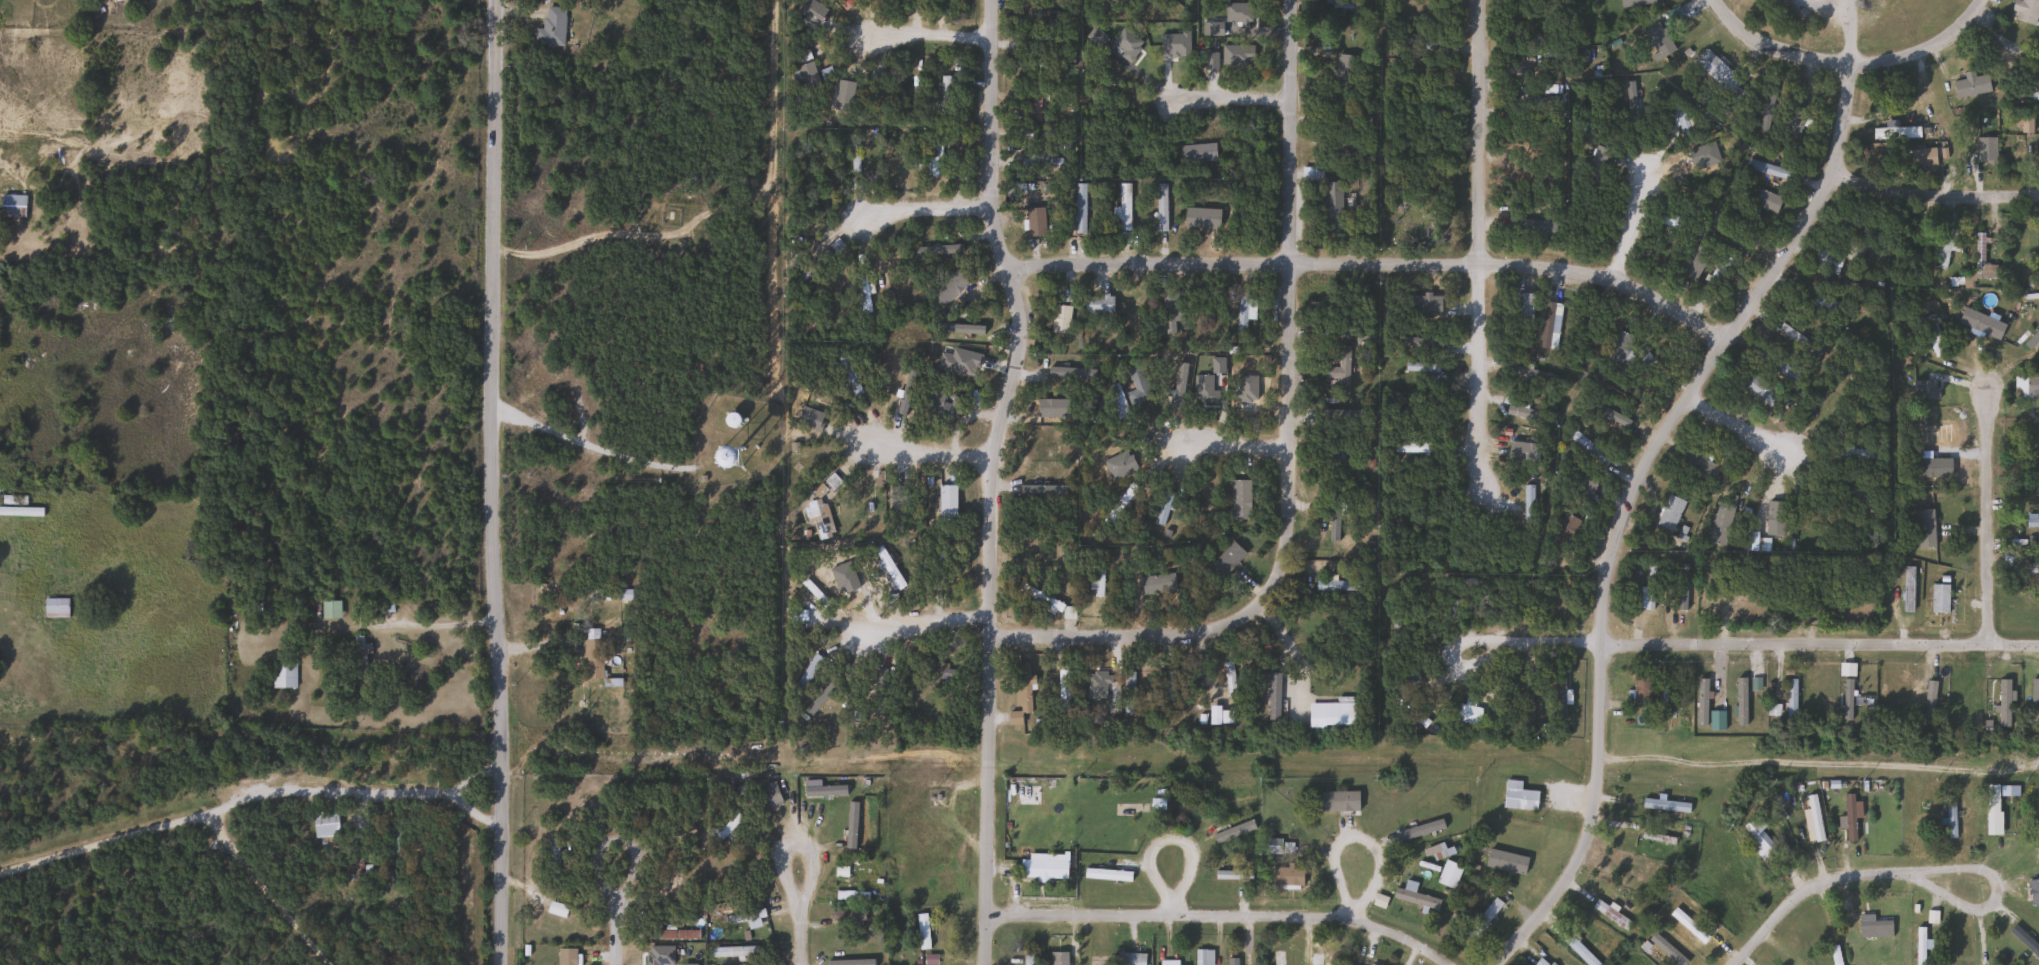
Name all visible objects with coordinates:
building: (918, 1)
building: (2025, 10)
building: (550, 26)
road: (926, 33)
building: (1043, 44)
road: (1768, 50)
road: (1927, 54)
building: (1534, 56)
building: (2008, 62)
building: (1345, 69)
building: (1716, 71)
building: (806, 76)
building: (1111, 76)
building: (1970, 84)
building: (944, 94)
road: (1225, 97)
building: (1739, 97)
building: (1035, 100)
building: (1539, 104)
building: (1634, 104)
building: (1679, 113)
building: (1792, 122)
building: (2017, 145)
building: (1197, 152)
building: (856, 153)
building: (1922, 157)
building: (933, 159)
building: (1034, 162)
building: (1768, 169)
road: (1929, 192)
building: (12, 206)
building: (1160, 207)
building: (1331, 207)
building: (1079, 208)
road: (925, 210)
building: (1123, 212)
road: (1630, 215)
building: (1034, 221)
building: (1417, 224)
building: (1536, 229)
building: (1943, 241)
building: (921, 249)
road: (1373, 254)
road: (1478, 255)
building: (1827, 262)
building: (1978, 267)
building: (947, 287)
building: (861, 295)
building: (1819, 302)
building: (1097, 304)
building: (1523, 307)
building: (1429, 309)
building: (1241, 315)
building: (1059, 318)
building: (1931, 335)
building: (1620, 347)
building: (957, 365)
building: (1776, 366)
building: (1341, 370)
building: (1070, 372)
building: (1534, 376)
building: (1136, 385)
building: (1754, 385)
building: (2025, 389)
building: (1115, 401)
building: (941, 405)
road: (1722, 414)
road: (1231, 438)
road: (1799, 439)
road: (1287, 440)
road: (583, 443)
building: (1416, 447)
building: (1587, 448)
building: (1857, 454)
road: (931, 455)
building: (722, 456)
building: (1697, 465)
road: (1635, 471)
road: (991, 478)
road: (489, 482)
building: (2029, 485)
building: (1582, 490)
building: (893, 496)
building: (945, 503)
building: (1119, 504)
building: (1162, 506)
building: (17, 507)
building: (1527, 508)
building: (1669, 513)
road: (1990, 514)
building: (1336, 516)
building: (818, 517)
building: (1924, 528)
building: (1561, 533)
building: (1225, 560)
building: (2030, 569)
building: (1097, 580)
building: (1824, 582)
building: (1337, 586)
building: (1646, 589)
building: (1907, 589)
building: (1731, 598)
building: (1938, 598)
building: (1046, 601)
building: (384, 604)
building: (55, 607)
building: (2029, 608)
building: (329, 609)
road: (1286, 622)
road: (920, 626)
road: (1738, 642)
building: (591, 654)
building: (359, 656)
building: (283, 675)
building: (805, 676)
building: (1229, 680)
building: (1171, 686)
building: (1062, 688)
building: (1641, 690)
building: (1127, 692)
building: (822, 695)
building: (1020, 695)
building: (1790, 698)
building: (1915, 699)
building: (2003, 703)
building: (1467, 714)
road: (1821, 763)
building: (766, 796)
building: (1518, 797)
road: (245, 800)
building: (1196, 801)
building: (208, 802)
building: (1338, 802)
building: (1665, 806)
building: (1991, 810)
building: (1848, 817)
building: (1814, 818)
building: (1950, 818)
building: (324, 824)
building: (727, 830)
building: (684, 837)
building: (1757, 841)
building: (396, 844)
road: (789, 845)
road: (599, 860)
building: (552, 862)
road: (1967, 869)
building: (1042, 870)
building: (1108, 871)
building: (1448, 874)
building: (1225, 875)
building: (1287, 876)
building: (669, 880)
road: (1174, 885)
road: (1355, 888)
road: (1806, 888)
road: (266, 890)
building: (2034, 892)
building: (848, 894)
building: (1413, 896)
road: (1951, 897)
building: (555, 909)
building: (1610, 915)
building: (847, 916)
building: (742, 917)
road: (1223, 917)
building: (1483, 919)
building: (1874, 926)
building: (1687, 928)
road: (617, 931)
building: (922, 931)
road: (800, 932)
building: (1919, 946)
building: (1576, 948)
building: (1665, 950)
building: (730, 952)
building: (1834, 955)
building: (565, 957)
building: (1202, 957)
building: (1026, 958)
building: (1092, 958)
building: (1058, 959)
building: (1319, 960)
building: (1539, 962)

